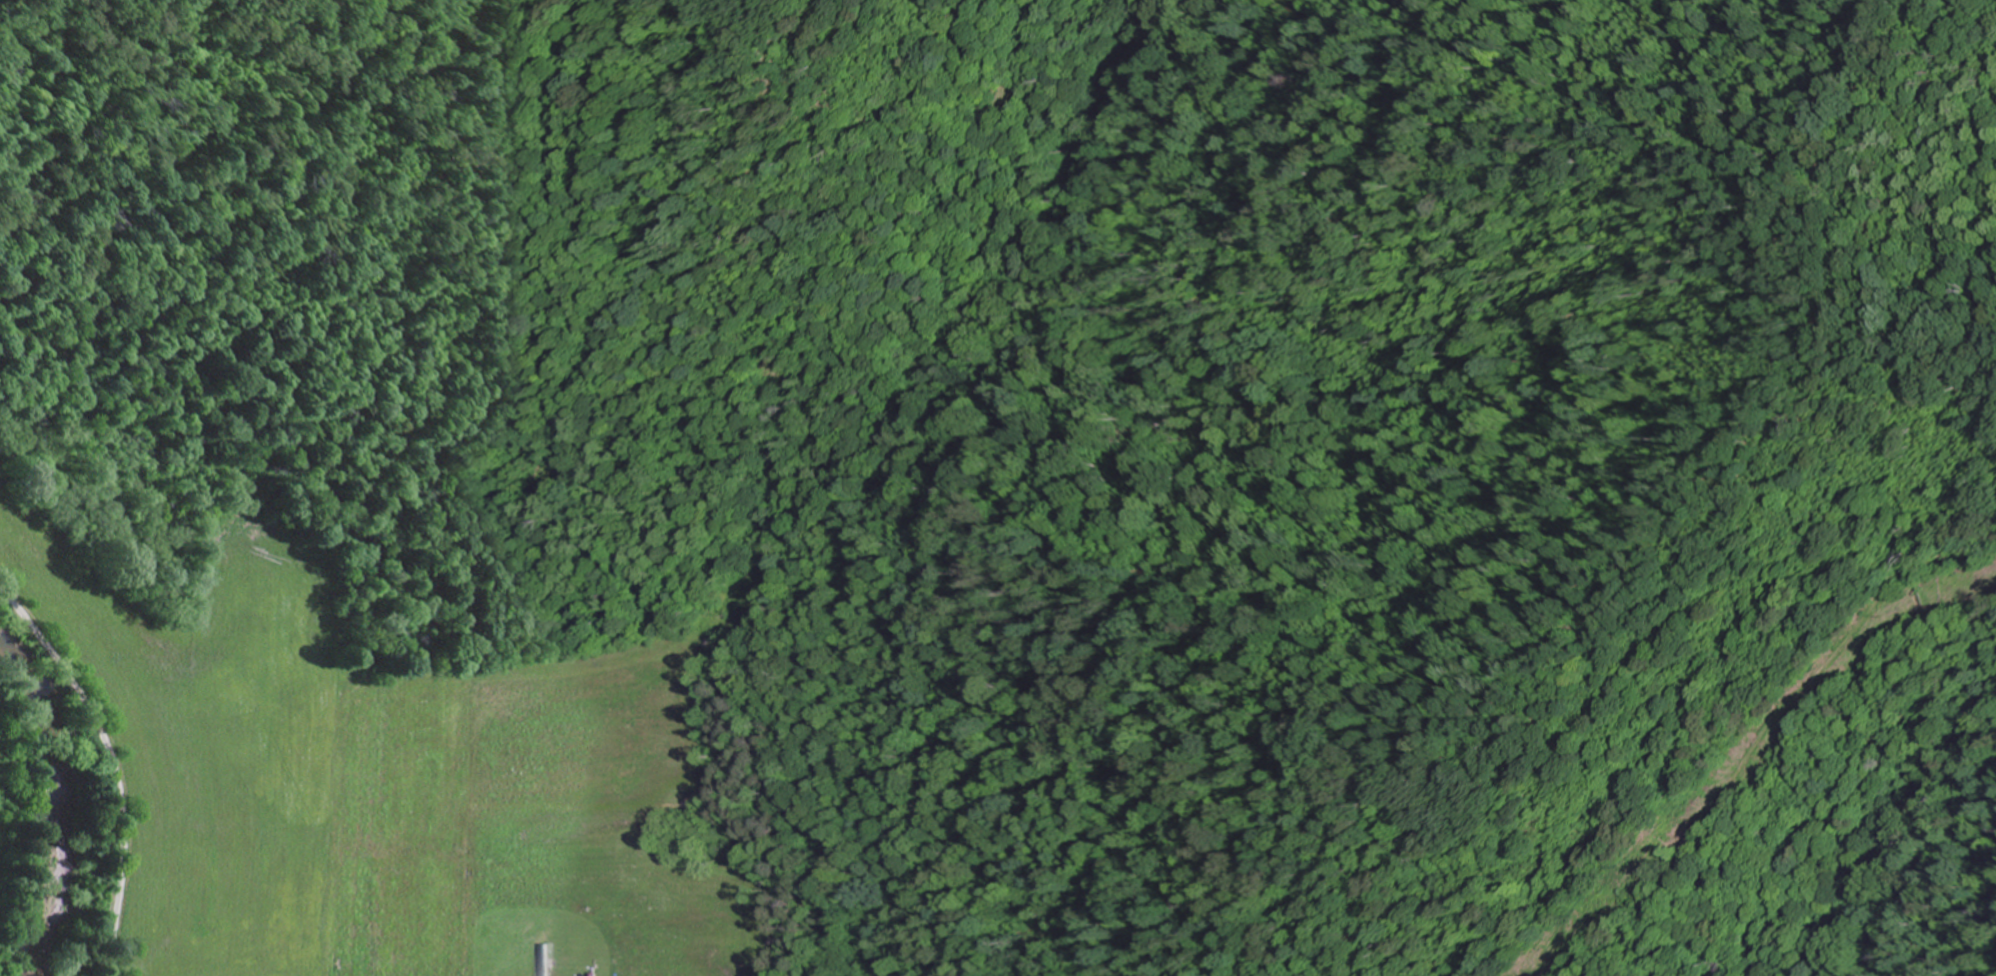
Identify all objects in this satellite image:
road: (111, 767)
river: (60, 810)

